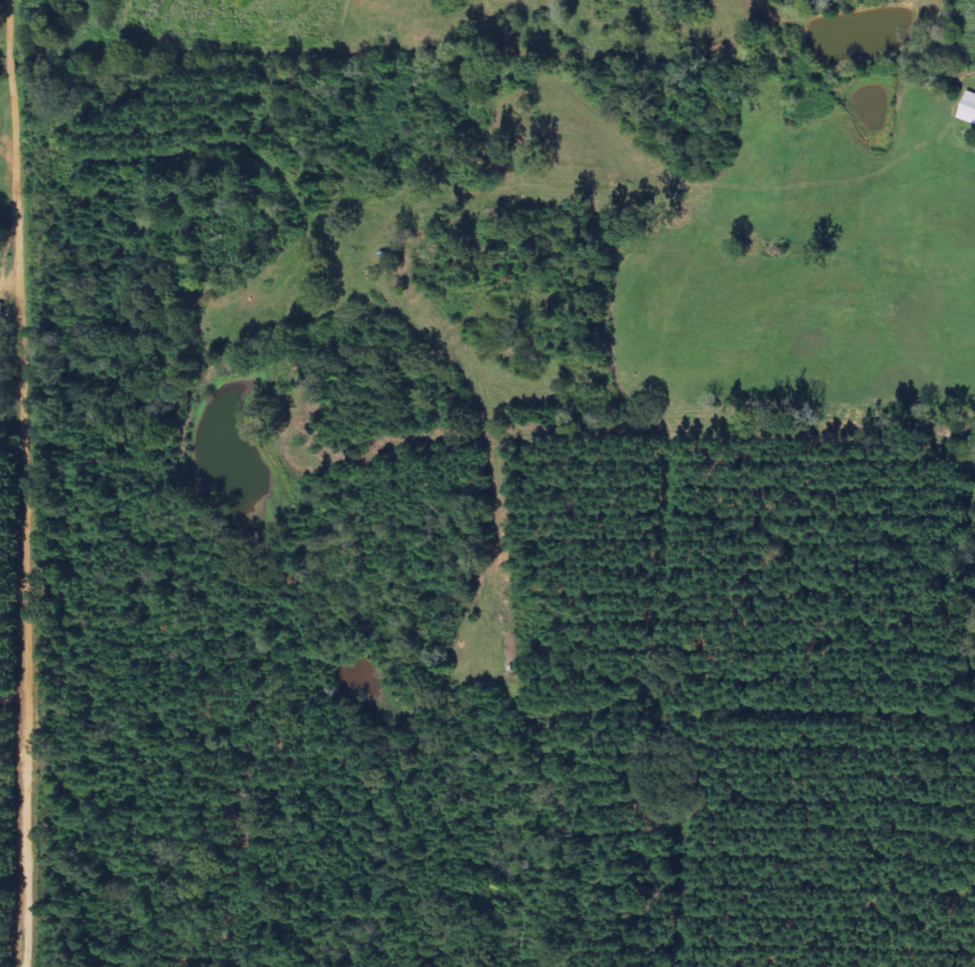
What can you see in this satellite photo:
building: (969, 109)
road: (11, 483)

